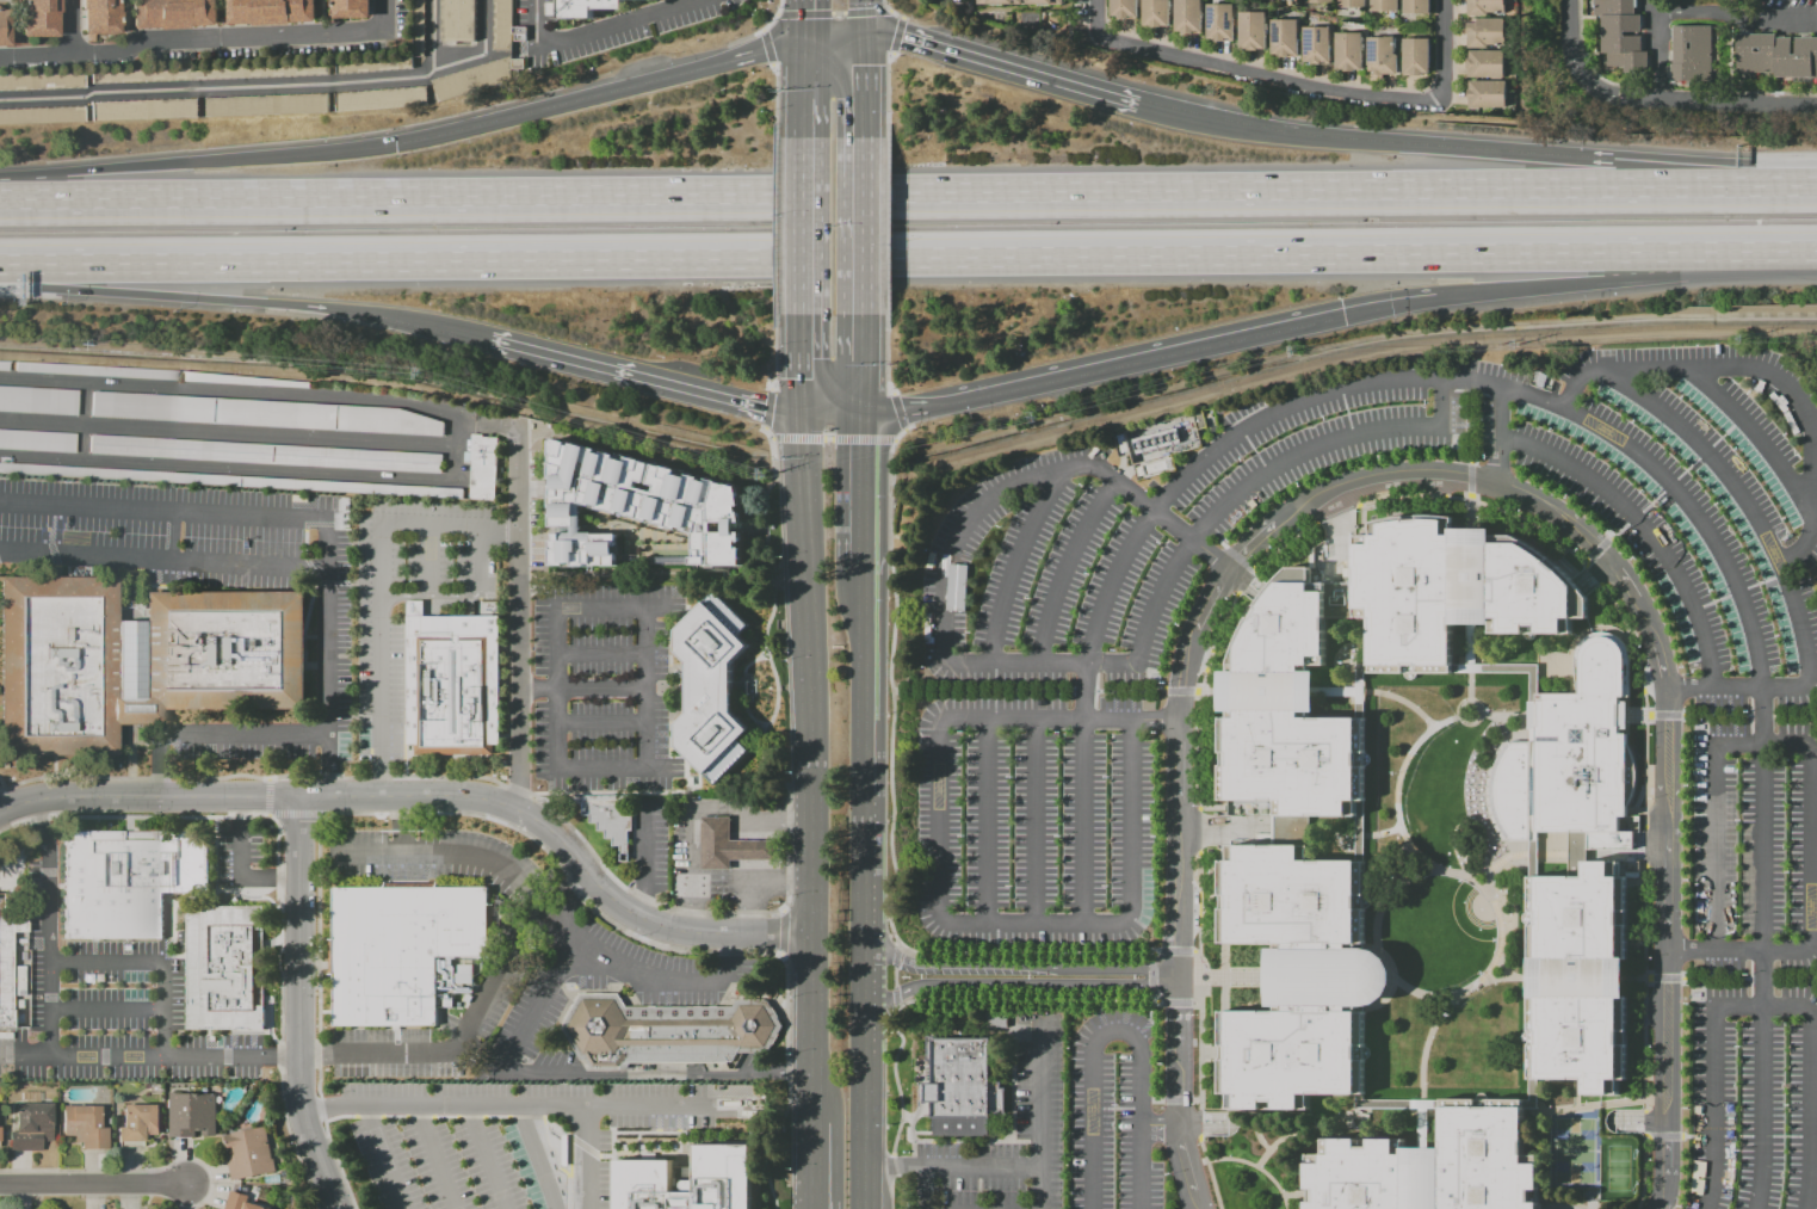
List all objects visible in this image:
building: (1019, 1)
building: (1320, 1)
building: (1351, 2)
building: (1384, 5)
building: (583, 6)
road: (858, 6)
building: (1416, 6)
building: (1483, 6)
building: (352, 8)
building: (1124, 8)
road: (890, 10)
road: (867, 11)
building: (271, 12)
road: (836, 12)
building: (1156, 12)
building: (173, 13)
road: (802, 13)
road: (1736, 13)
building: (100, 16)
building: (1188, 16)
building: (38, 18)
road: (1098, 18)
building: (457, 20)
road: (798, 21)
building: (1219, 21)
road: (860, 23)
building: (501, 25)
road: (70, 26)
building: (4, 27)
building: (418, 27)
building: (1251, 30)
road: (760, 31)
building: (1484, 31)
building: (519, 33)
building: (1620, 33)
road: (604, 35)
traffic signals: (861, 35)
road: (895, 35)
building: (1284, 37)
road: (829, 38)
road: (205, 42)
traffic signals: (798, 43)
building: (1316, 44)
road: (1444, 45)
road: (766, 47)
road: (1655, 49)
building: (1348, 50)
building: (1692, 54)
building: (1775, 55)
building: (1380, 56)
building: (1415, 56)
road: (999, 63)
building: (1484, 63)
building: (373, 64)
road: (446, 69)
building: (210, 73)
road: (1584, 76)
building: (476, 78)
road: (1271, 78)
building: (42, 81)
road: (864, 85)
road: (214, 88)
road: (797, 90)
road: (886, 93)
road: (597, 94)
building: (1487, 94)
building: (382, 98)
road: (775, 98)
building: (267, 105)
road: (1737, 105)
building: (144, 110)
building: (42, 115)
road: (1372, 140)
traffic signals: (396, 144)
road: (865, 156)
road: (209, 160)
road: (1631, 172)
road: (1733, 185)
road: (841, 192)
road: (16, 198)
road: (797, 208)
road: (775, 224)
road: (886, 226)
road: (864, 245)
road: (908, 257)
road: (1552, 286)
road: (183, 295)
road: (797, 296)
road: (1389, 307)
traffic signals: (1345, 316)
road: (429, 323)
road: (774, 351)
road: (886, 354)
building: (4, 365)
road: (797, 365)
road: (864, 366)
road: (1102, 368)
building: (95, 371)
road: (642, 377)
building: (242, 380)
road: (1343, 397)
building: (38, 400)
road: (1724, 401)
road: (767, 409)
road: (1346, 411)
road: (897, 412)
building: (264, 413)
traffic signals: (797, 418)
road: (829, 419)
traffic signals: (861, 420)
building: (1200, 420)
road: (1470, 421)
road: (1349, 424)
road: (1732, 425)
road: (1812, 430)
road: (1722, 434)
road: (1498, 437)
road: (796, 439)
road: (1247, 439)
building: (37, 440)
road: (828, 440)
road: (865, 440)
building: (1155, 440)
road: (1324, 442)
building: (1123, 443)
road: (1254, 451)
road: (1704, 451)
building: (266, 454)
road: (1261, 463)
building: (1158, 465)
building: (486, 468)
road: (1687, 468)
building: (1139, 470)
road: (1470, 477)
building: (230, 480)
road: (1668, 483)
road: (860, 489)
road: (1744, 496)
building: (311, 498)
road: (1651, 501)
road: (1479, 502)
building: (342, 504)
building: (639, 507)
road: (166, 508)
road: (1470, 510)
road: (1339, 513)
road: (1632, 517)
road: (1337, 525)
road: (1646, 529)
road: (1606, 531)
road: (175, 535)
street lamp: (180, 536)
road: (50, 541)
building: (361, 543)
road: (1283, 544)
road: (1722, 547)
road: (1596, 548)
road: (1596, 553)
building: (396, 556)
building: (443, 557)
road: (146, 559)
road: (1238, 559)
building: (478, 562)
road: (1014, 567)
road: (1064, 567)
road: (1593, 573)
road: (1593, 574)
road: (1246, 581)
road: (1111, 584)
road: (1248, 584)
building: (1453, 588)
road: (378, 593)
road: (947, 594)
road: (517, 621)
road: (1611, 629)
road: (860, 640)
road: (1470, 646)
parking lot: (358, 647)
road: (327, 653)
road: (601, 653)
road: (1570, 656)
building: (137, 659)
road: (1483, 667)
road: (774, 671)
road: (994, 674)
road: (1551, 676)
building: (455, 683)
road: (582, 687)
road: (649, 687)
building: (710, 687)
road: (1717, 689)
road: (1083, 690)
road: (1095, 690)
road: (1131, 690)
road: (1470, 690)
road: (982, 691)
road: (994, 691)
road: (1083, 691)
road: (1113, 691)
road: (1131, 691)
road: (1180, 691)
road: (1206, 691)
road: (1339, 691)
road: (1200, 698)
road: (1401, 698)
road: (1644, 701)
road: (555, 702)
road: (994, 708)
building: (1284, 714)
road: (1667, 715)
road: (1716, 715)
road: (1751, 715)
road: (1761, 715)
road: (1794, 715)
road: (1639, 716)
road: (1158, 720)
road: (602, 722)
road: (1481, 727)
road: (1706, 728)
road: (243, 736)
road: (1776, 744)
road: (130, 751)
road: (1411, 751)
road: (1358, 752)
road: (860, 755)
building: (1570, 755)
road: (159, 757)
road: (810, 770)
road: (173, 775)
road: (64, 776)
road: (272, 777)
road: (160, 787)
road: (330, 787)
road: (267, 796)
road: (149, 797)
road: (1481, 798)
road: (240, 807)
road: (31, 808)
road: (860, 812)
street lamp: (152, 813)
road: (347, 813)
road: (284, 814)
road: (313, 814)
road: (191, 816)
road: (894, 816)
street lamp: (321, 818)
building: (613, 818)
road: (1036, 821)
road: (1082, 821)
road: (17, 822)
road: (989, 822)
road: (129, 827)
parking lot: (260, 828)
road: (1224, 828)
road: (1198, 831)
road: (1379, 832)
parking lot: (1037, 840)
building: (731, 846)
road: (1644, 846)
road: (566, 849)
road: (1628, 852)
parking lot: (240, 857)
road: (643, 863)
road: (240, 865)
street lamp: (249, 865)
road: (290, 877)
building: (128, 881)
road: (861, 882)
road: (1488, 882)
road: (215, 884)
road: (1211, 889)
road: (1360, 892)
road: (1224, 901)
road: (1176, 902)
road: (947, 921)
road: (1142, 924)
road: (1209, 931)
road: (781, 932)
road: (47, 934)
road: (1150, 940)
building: (8, 945)
road: (898, 945)
building: (397, 948)
road: (512, 948)
road: (1717, 950)
road: (1195, 951)
flagpole: (1201, 956)
road: (895, 957)
flagpole: (1205, 961)
road: (152, 962)
road: (1000, 963)
road: (625, 966)
building: (222, 967)
flagpole: (1207, 967)
building: (466, 975)
road: (895, 976)
road: (1151, 976)
road: (1160, 977)
road: (1224, 977)
building: (1300, 977)
building: (1581, 977)
road: (1639, 977)
road: (1665, 977)
road: (1714, 977)
road: (1750, 977)
road: (1761, 977)
road: (1791, 977)
road: (1220, 979)
road: (1506, 979)
road: (1201, 980)
road: (1000, 981)
road: (1473, 985)
road: (1644, 987)
road: (1701, 992)
road: (896, 995)
street lamp: (39, 997)
road: (1027, 998)
parking lot: (109, 1004)
road: (301, 1004)
road: (1195, 1004)
road: (1099, 1005)
road: (1763, 1007)
road: (105, 1008)
road: (539, 1008)
road: (1149, 1011)
building: (996, 1018)
road: (1102, 1022)
road: (1118, 1029)
road: (1142, 1029)
street lamp: (82, 1031)
building: (666, 1031)
street lamp: (150, 1032)
road: (1424, 1049)
road: (1224, 1051)
road: (1220, 1053)
road: (290, 1054)
road: (138, 1055)
road: (1216, 1061)
building: (1531, 1061)
street lamp: (48, 1067)
street lamp: (104, 1067)
road: (864, 1069)
road: (662, 1073)
road: (894, 1075)
parking lot: (1039, 1084)
road: (785, 1085)
building: (960, 1086)
road: (1040, 1090)
road: (1526, 1093)
road: (1575, 1093)
road: (1176, 1094)
building: (29, 1097)
road: (1175, 1099)
road: (1152, 1100)
road: (1210, 1100)
building: (1457, 1102)
building: (1393, 1103)
building: (1510, 1103)
road: (1407, 1104)
road: (1601, 1104)
road: (1355, 1106)
road: (496, 1108)
road: (1102, 1109)
road: (1114, 1109)
road: (1131, 1109)
building: (191, 1114)
parking lot: (1118, 1115)
road: (1334, 1116)
road: (1636, 1122)
building: (138, 1123)
road: (1206, 1123)
road: (1199, 1124)
road: (1644, 1124)
building: (84, 1125)
building: (30, 1127)
road: (1161, 1128)
road: (1257, 1134)
road: (1761, 1136)
road: (1785, 1136)
road: (1800, 1136)
parking lot: (518, 1137)
road: (1662, 1137)
road: (1687, 1137)
road: (1713, 1137)
road: (1737, 1137)
road: (1285, 1142)
building: (249, 1153)
park: (1574, 1154)
road: (385, 1158)
road: (434, 1158)
road: (487, 1158)
road: (537, 1158)
road: (585, 1158)
road: (1006, 1165)
road: (810, 1166)
road: (895, 1166)
road: (1257, 1166)
building: (1432, 1167)
road: (922, 1168)
park: (1618, 1168)
road: (890, 1170)
road: (1210, 1172)
road: (1644, 1173)
building: (688, 1180)
road: (93, 1183)
road: (927, 1188)
road: (901, 1192)
road: (1297, 1193)
building: (240, 1202)
road: (338, 1207)

